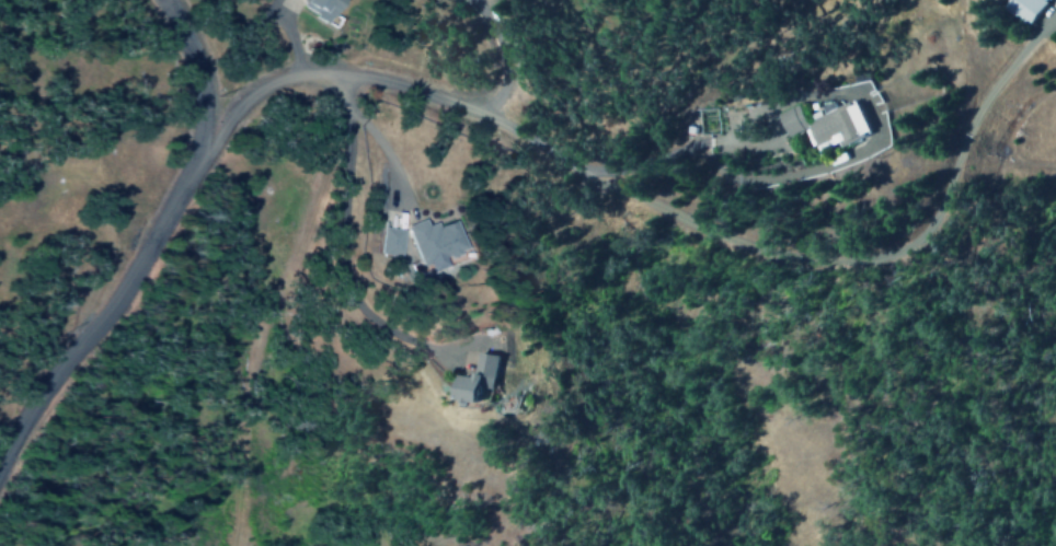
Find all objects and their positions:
building: (321, 7)
building: (1032, 8)
road: (351, 113)
road: (496, 119)
building: (833, 123)
road: (371, 129)
building: (440, 241)
road: (148, 242)
building: (397, 242)
road: (880, 264)
building: (489, 379)

